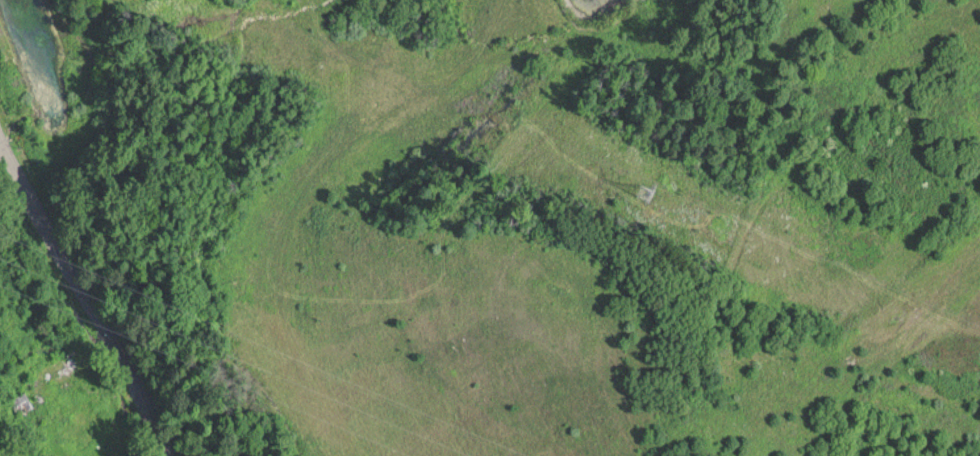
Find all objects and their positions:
power tower: (648, 182)
road: (85, 297)
building: (20, 401)

